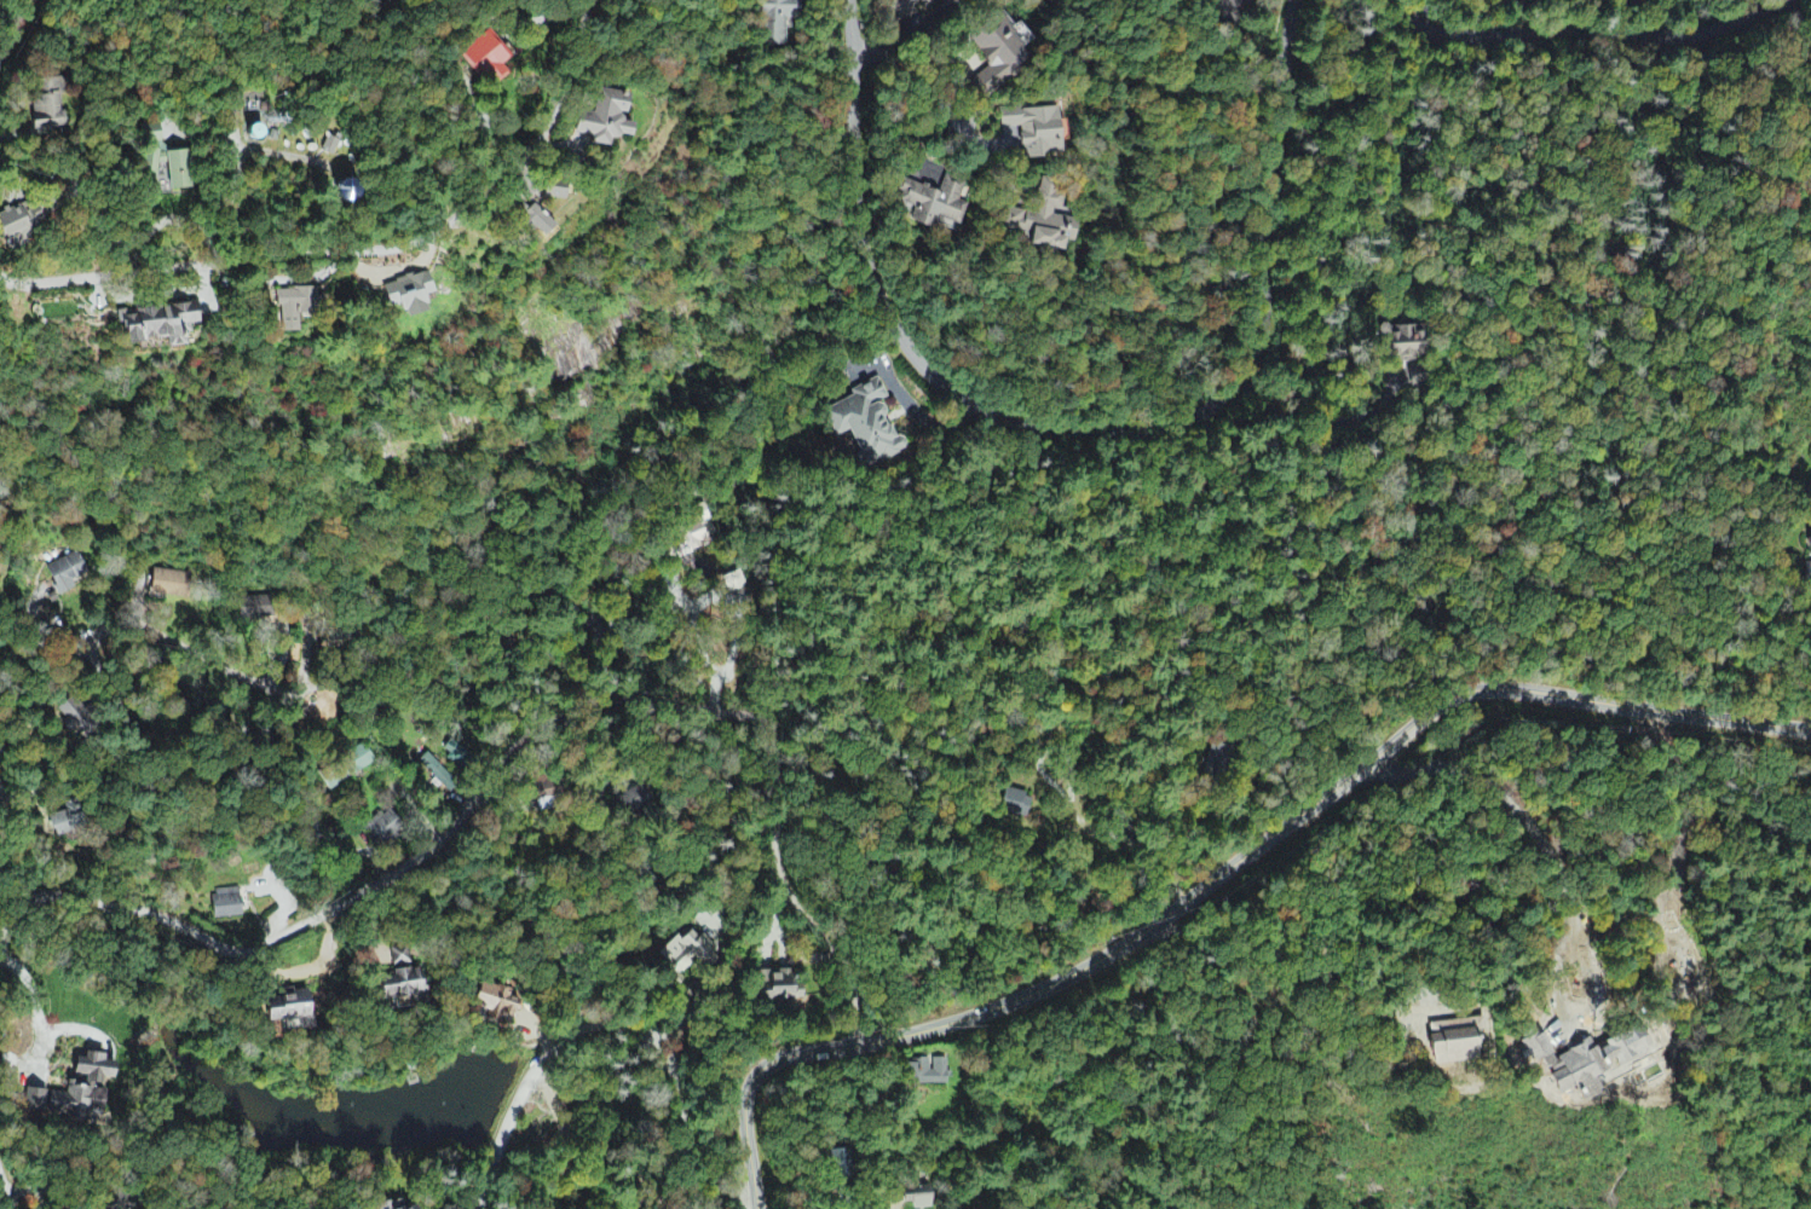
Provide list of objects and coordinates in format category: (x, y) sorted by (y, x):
building: (921, 4)
building: (772, 22)
road: (13, 28)
road: (1582, 33)
building: (998, 58)
building: (488, 60)
building: (51, 109)
building: (607, 121)
building: (1034, 132)
building: (260, 135)
building: (168, 163)
road: (889, 189)
building: (558, 192)
building: (933, 204)
building: (1040, 221)
building: (538, 224)
building: (23, 226)
road: (363, 249)
building: (411, 296)
building: (295, 310)
building: (160, 325)
building: (1402, 345)
park: (566, 355)
road: (1068, 405)
building: (864, 424)
building: (1807, 568)
building: (67, 575)
building: (171, 586)
building: (734, 588)
building: (253, 612)
road: (45, 631)
road: (94, 659)
building: (77, 721)
road: (512, 744)
building: (361, 760)
building: (1217, 763)
building: (438, 775)
building: (543, 793)
building: (631, 802)
building: (1015, 805)
building: (68, 825)
building: (383, 829)
road: (1223, 874)
building: (227, 906)
building: (688, 954)
building: (404, 983)
building: (779, 989)
building: (496, 1006)
building: (294, 1012)
road: (611, 1024)
building: (1603, 1064)
building: (928, 1074)
building: (85, 1089)
building: (36, 1101)
road: (5, 1194)
building: (917, 1199)
building: (393, 1205)
building: (417, 1208)

